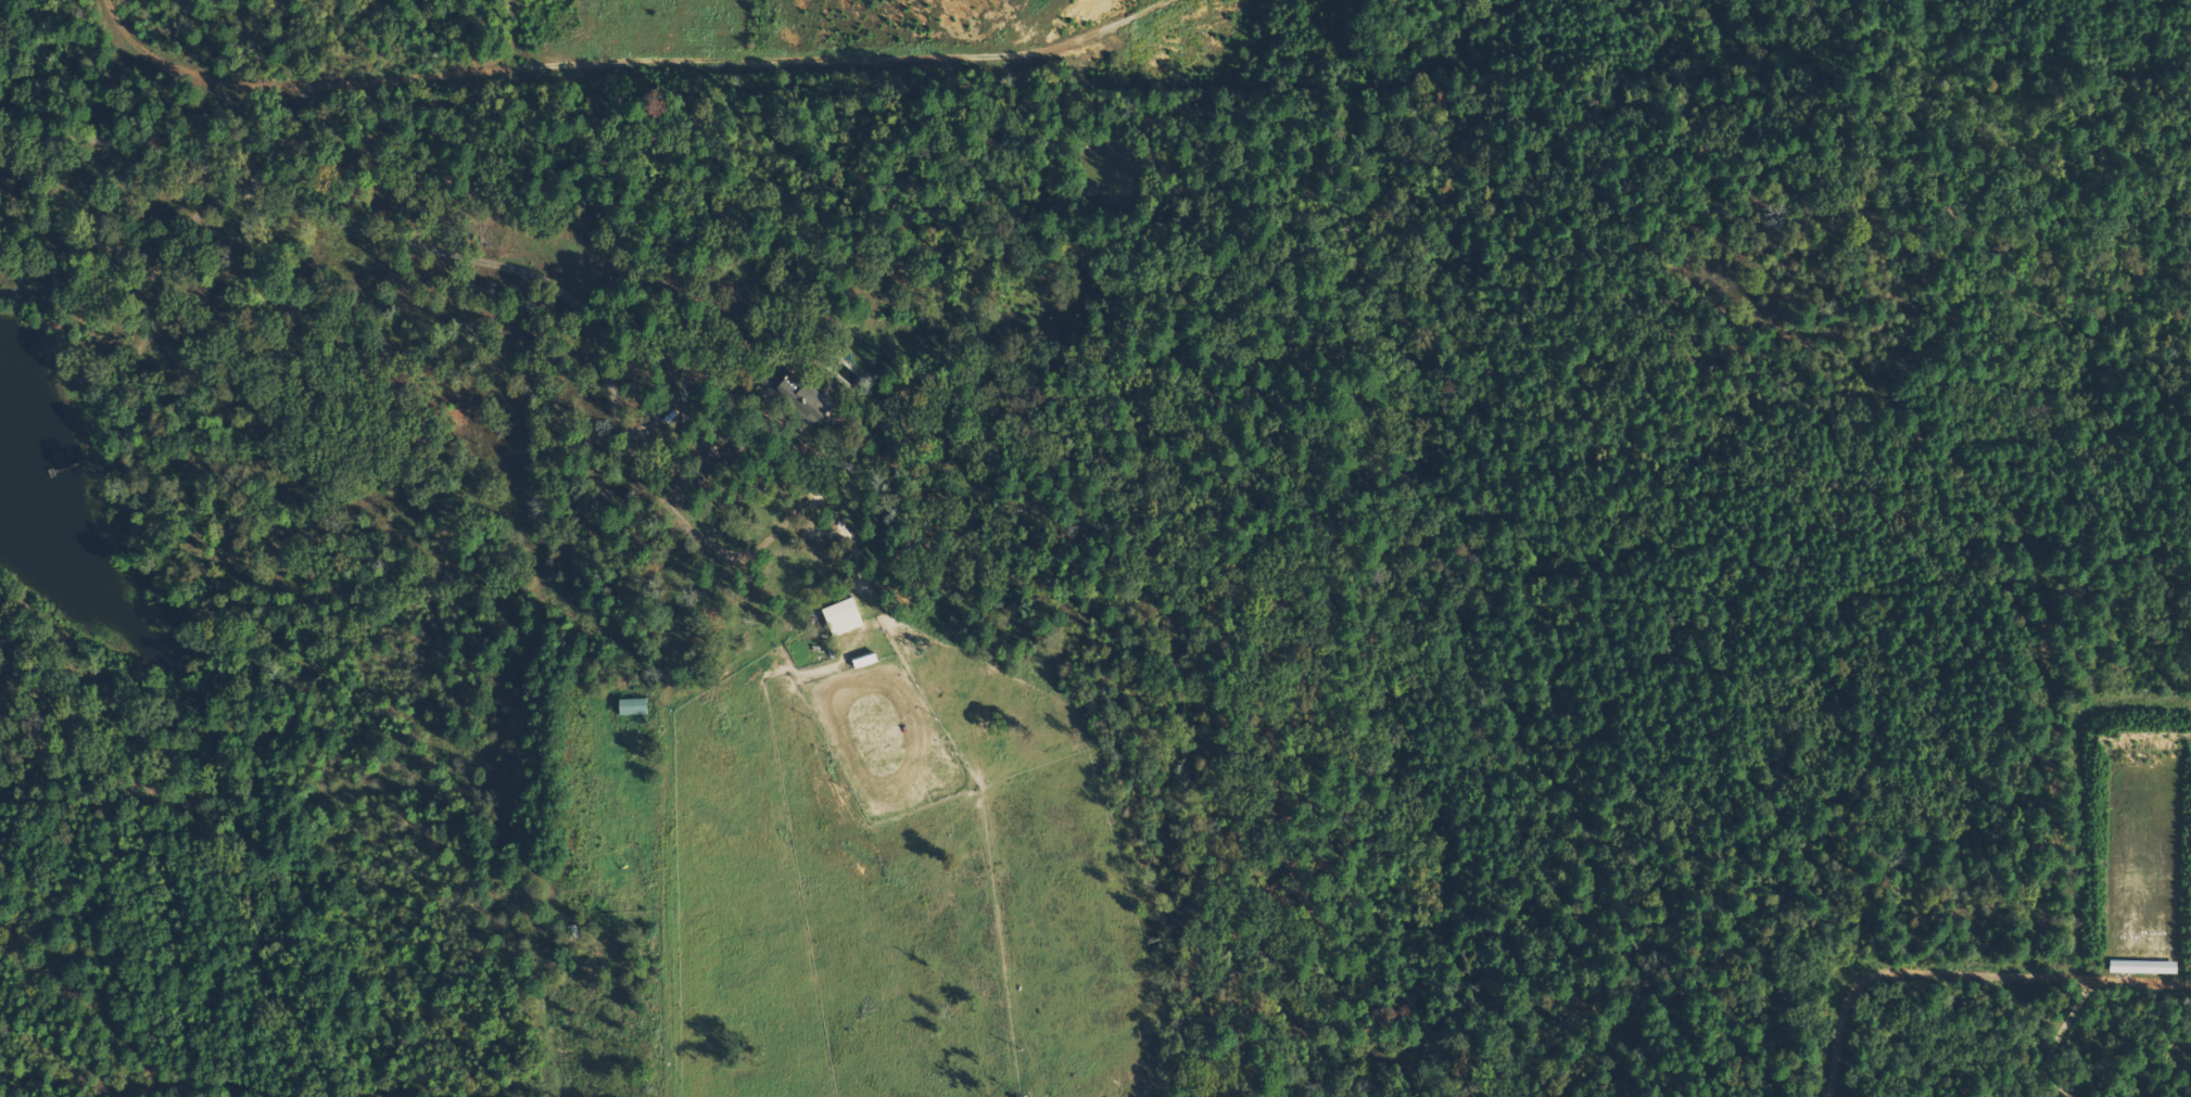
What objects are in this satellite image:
building: (809, 399)
building: (839, 616)
building: (631, 706)
building: (2141, 967)

